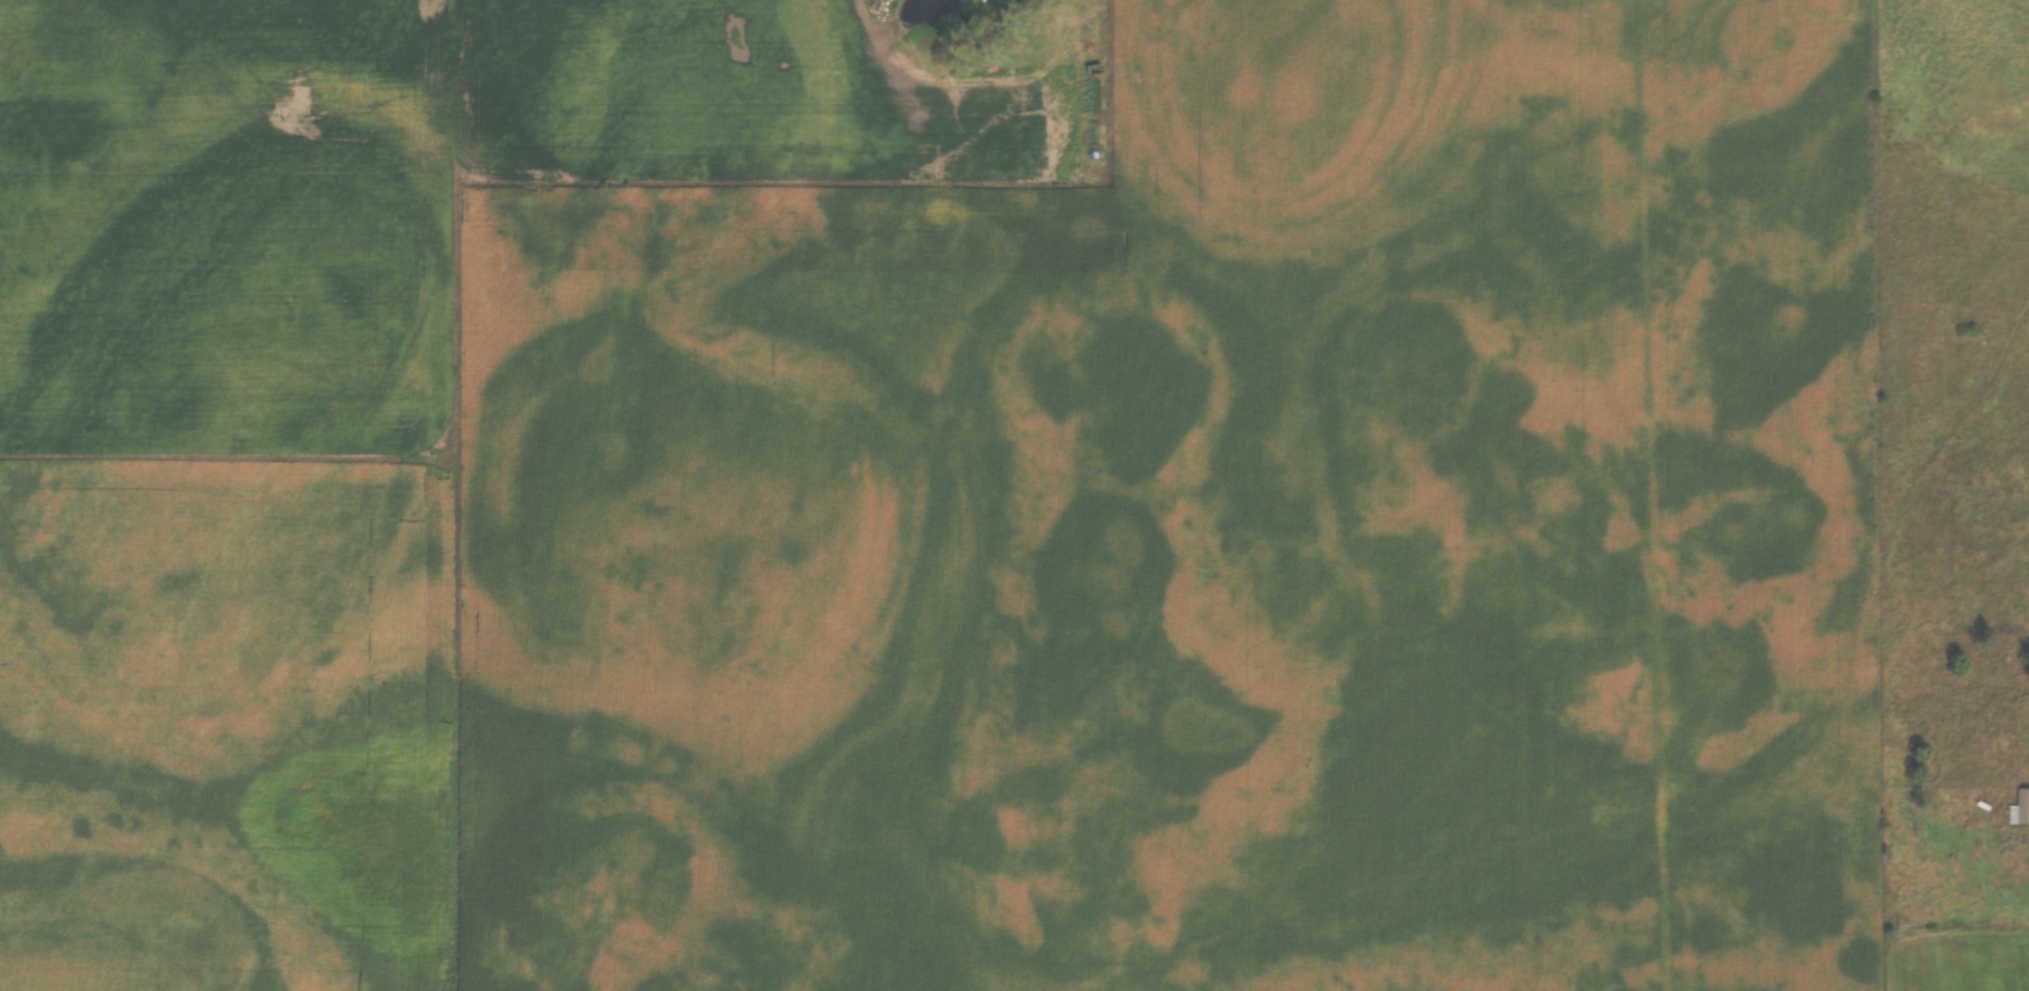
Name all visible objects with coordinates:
building: (2024, 806)

